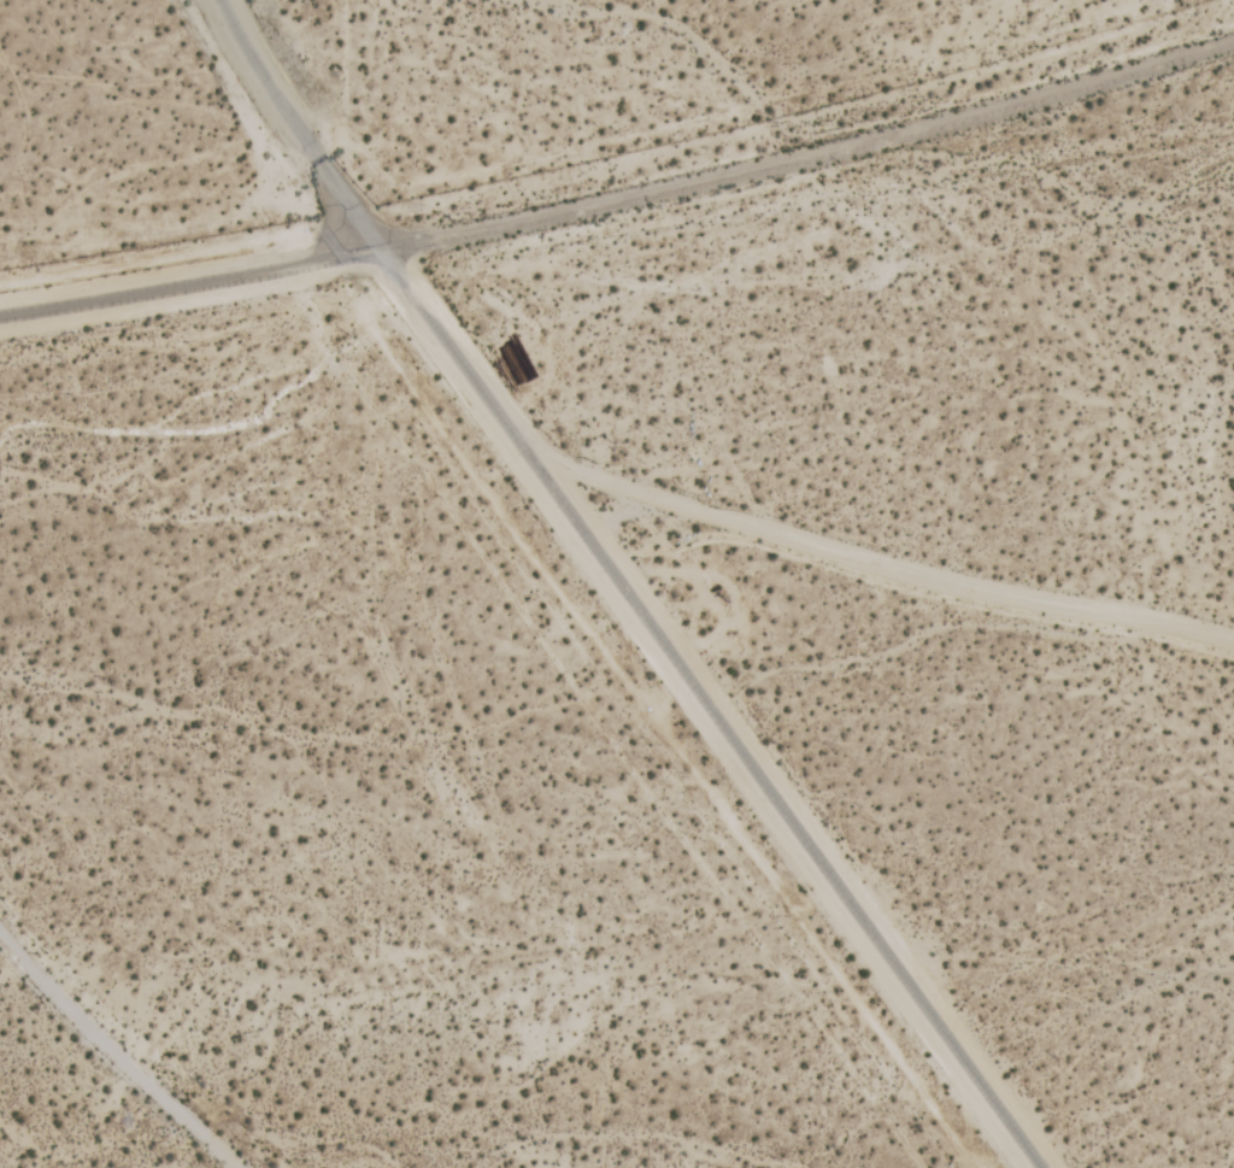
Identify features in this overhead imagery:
road: (295, 124)
road: (621, 194)
road: (709, 708)

